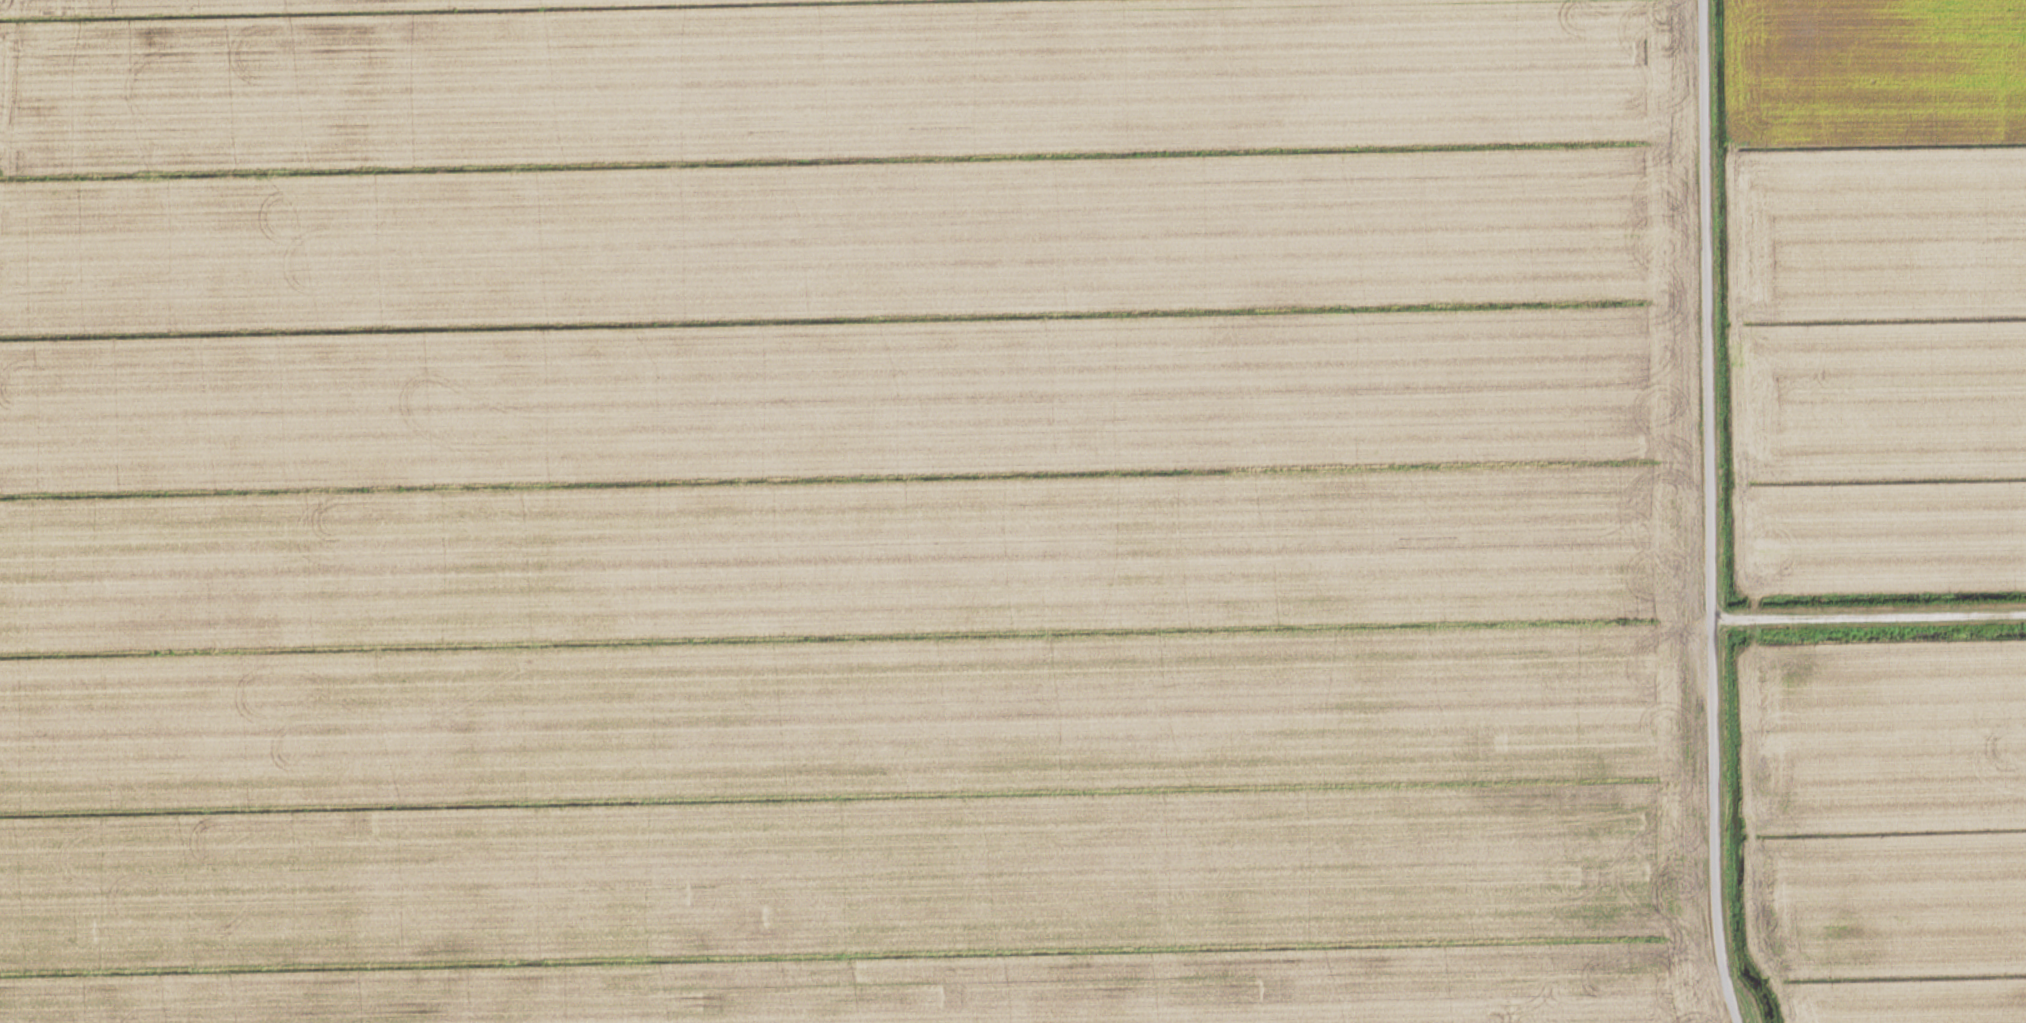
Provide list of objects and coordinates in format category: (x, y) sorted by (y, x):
crop: (1877, 295)
road: (1710, 513)
crop: (1887, 831)

